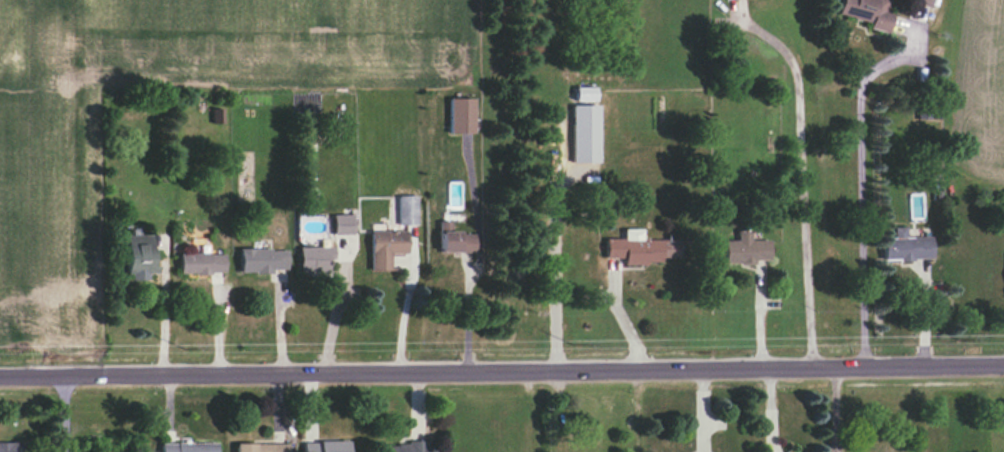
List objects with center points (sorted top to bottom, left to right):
building: (724, 0)
building: (922, 2)
building: (867, 12)
crop: (988, 93)
building: (217, 115)
building: (459, 115)
building: (585, 129)
road: (802, 185)
road: (861, 196)
building: (407, 212)
crop: (50, 215)
building: (343, 226)
building: (453, 240)
building: (905, 245)
building: (384, 249)
building: (741, 249)
building: (640, 250)
building: (137, 255)
building: (314, 257)
building: (257, 260)
building: (199, 262)
road: (554, 265)
road: (405, 305)
road: (333, 309)
road: (468, 313)
road: (162, 314)
road: (501, 370)
road: (61, 414)
building: (9, 447)
building: (186, 447)
building: (260, 447)
building: (324, 447)
building: (405, 447)

